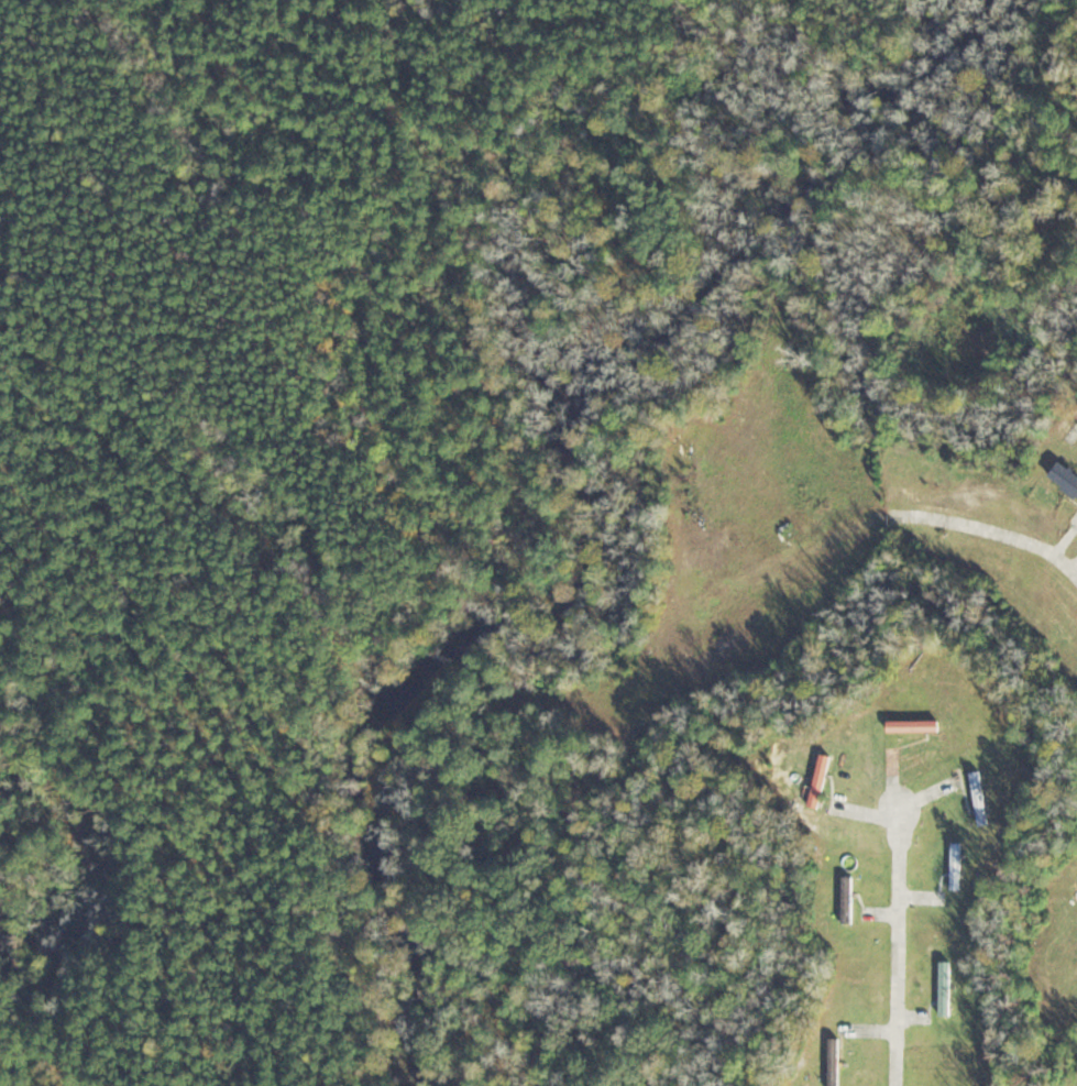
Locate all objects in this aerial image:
road: (993, 528)
building: (919, 724)
building: (825, 779)
building: (983, 797)
building: (960, 865)
building: (851, 899)
road: (900, 946)
building: (949, 987)
building: (838, 1062)

